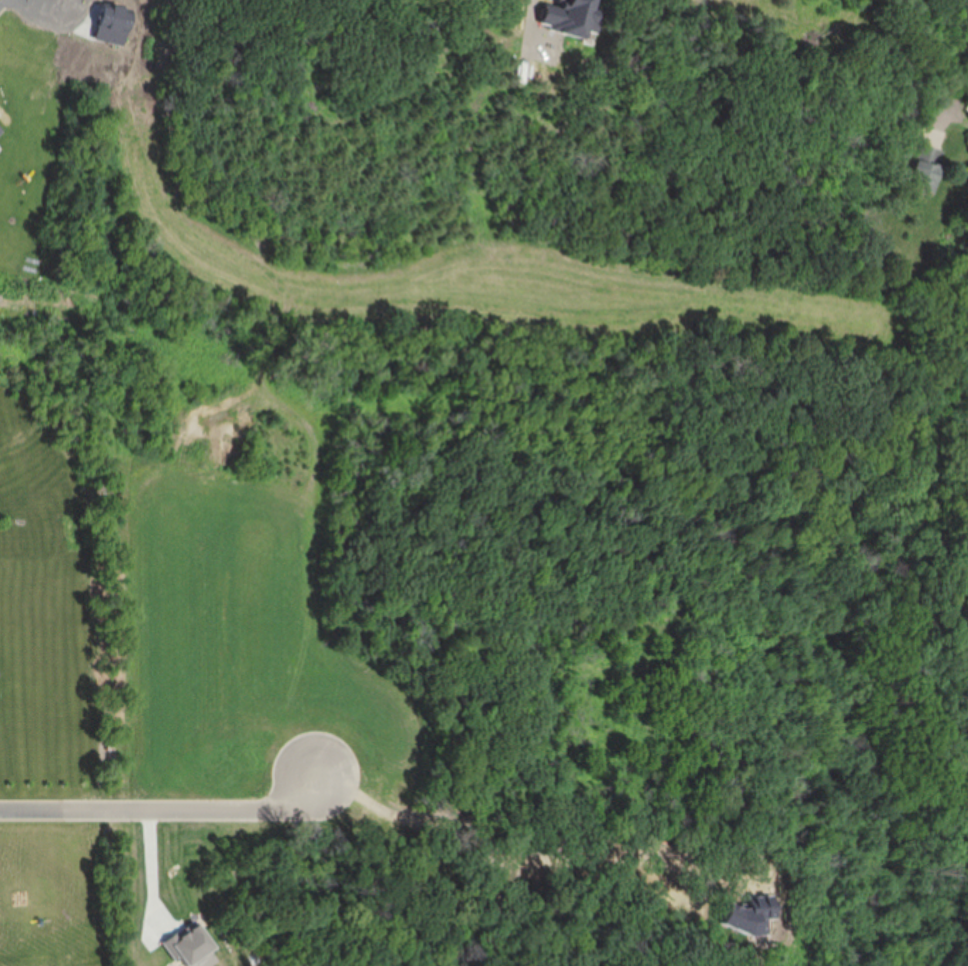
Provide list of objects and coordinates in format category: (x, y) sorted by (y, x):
road: (954, 108)
building: (925, 176)
road: (164, 809)

